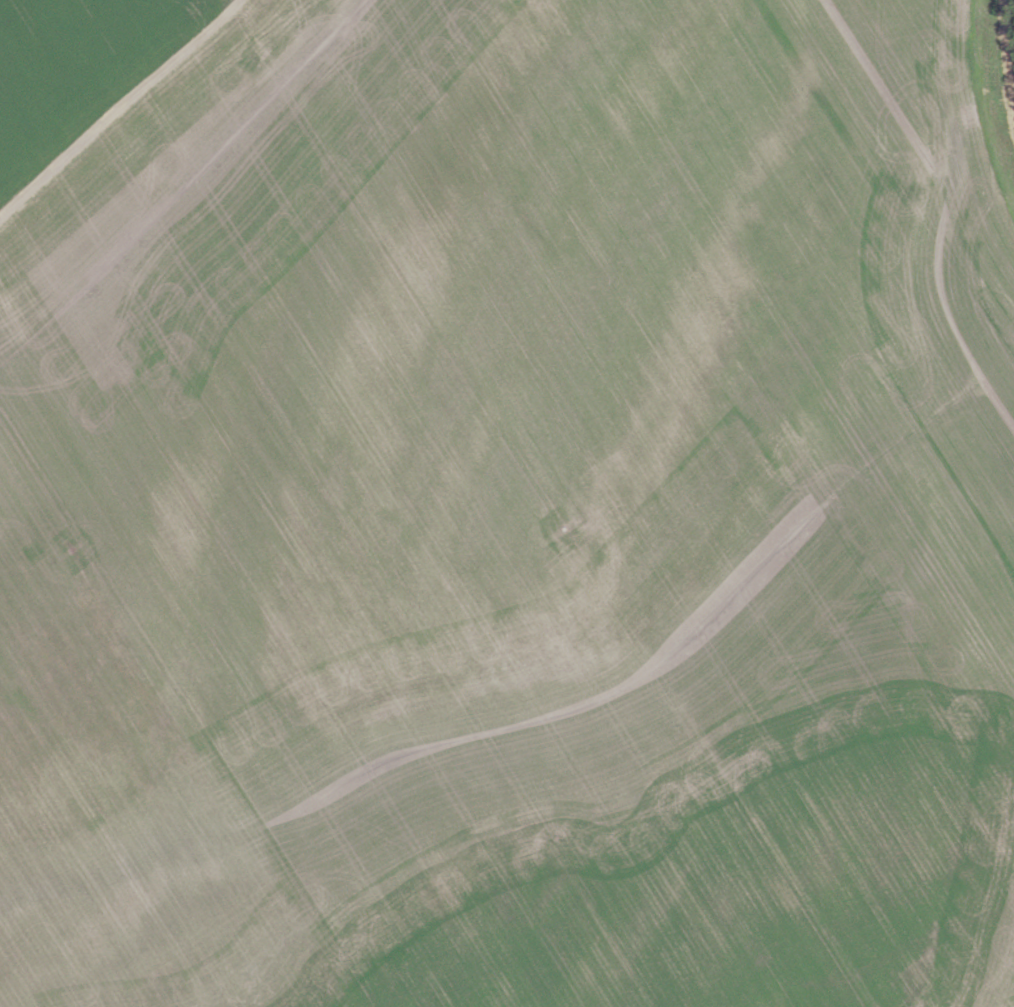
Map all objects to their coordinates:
road: (1011, 39)
road: (119, 107)
crop: (503, 506)

